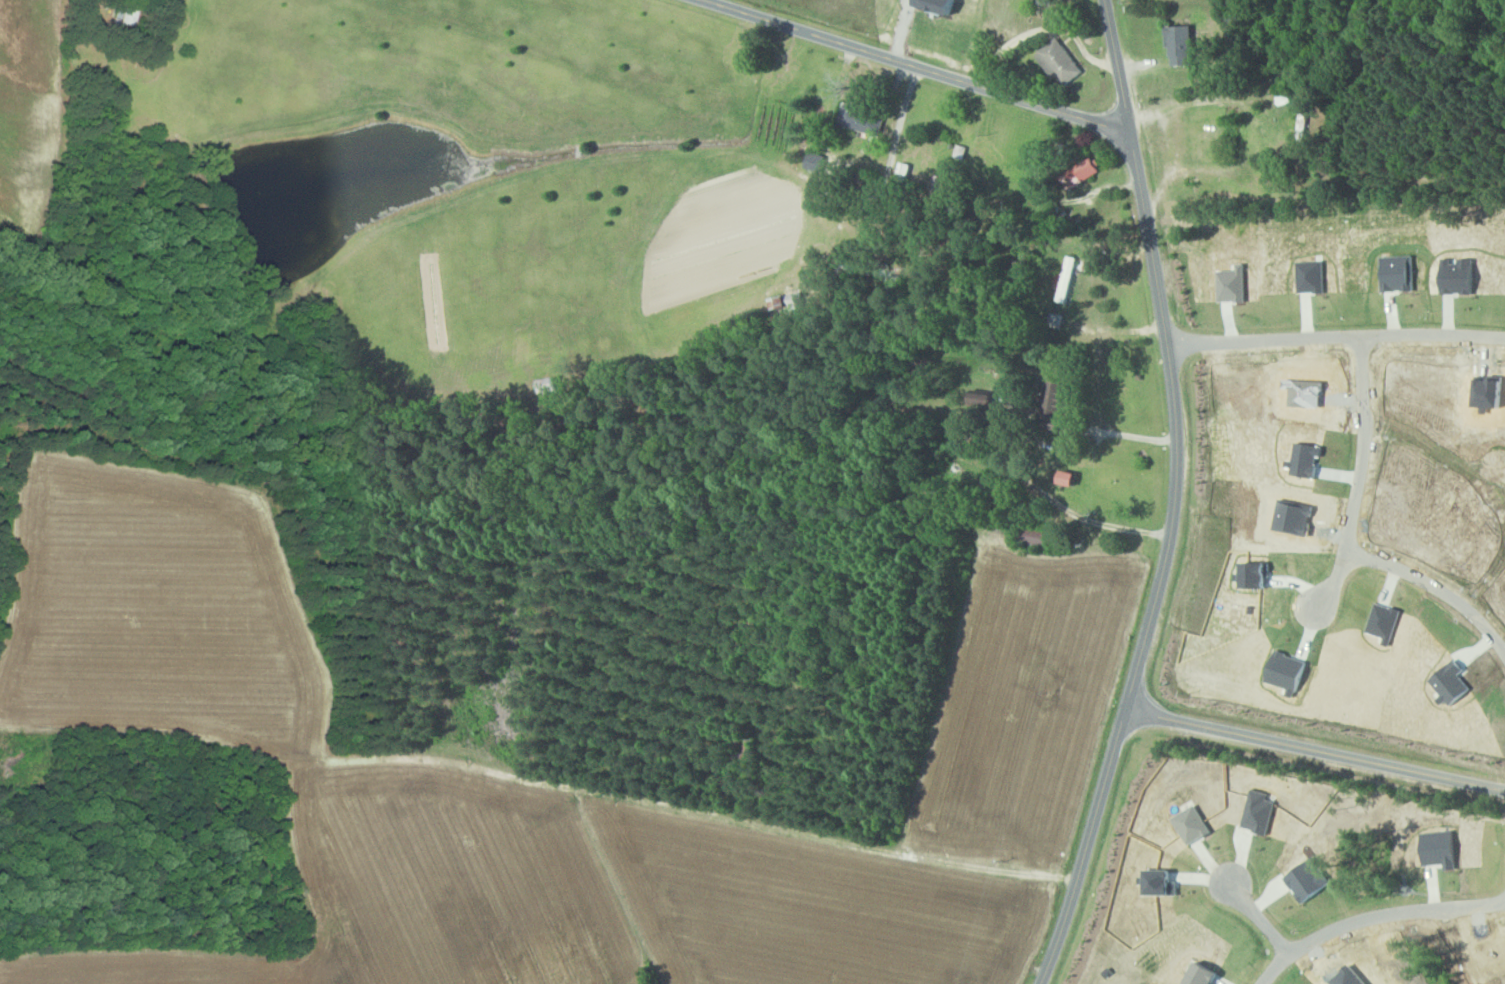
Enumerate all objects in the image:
building: (1048, 2)
building: (940, 6)
building: (1181, 46)
building: (1060, 62)
road: (915, 67)
building: (869, 123)
building: (817, 161)
building: (1086, 170)
building: (787, 301)
road: (1335, 337)
building: (548, 386)
building: (983, 399)
road: (1126, 434)
road: (1359, 476)
building: (1070, 477)
road: (1174, 498)
road: (1062, 503)
building: (1040, 536)
road: (1435, 587)
road: (1315, 746)
road: (915, 833)
road: (1266, 913)
road: (1372, 916)

